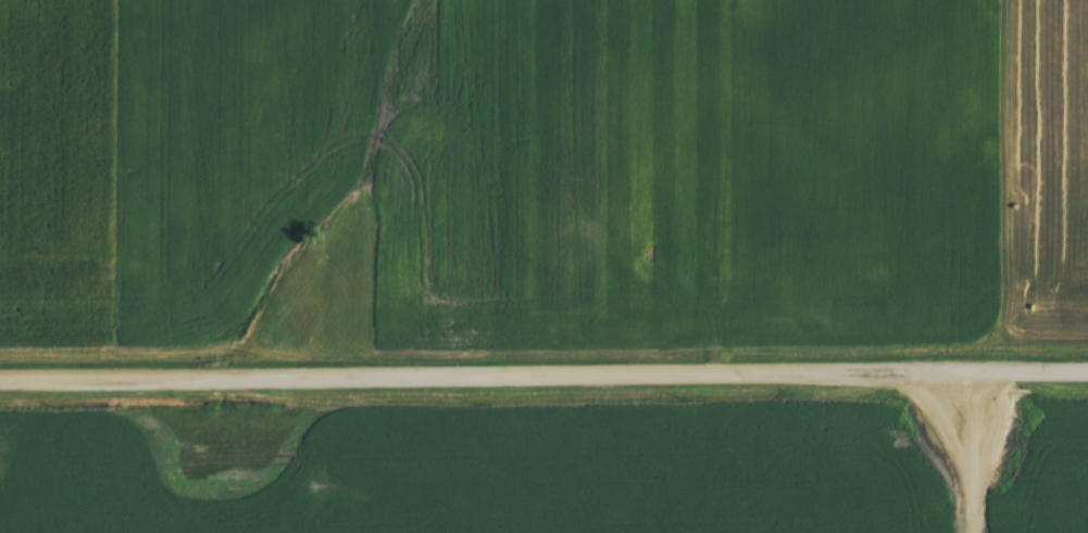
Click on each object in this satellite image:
road: (543, 372)

